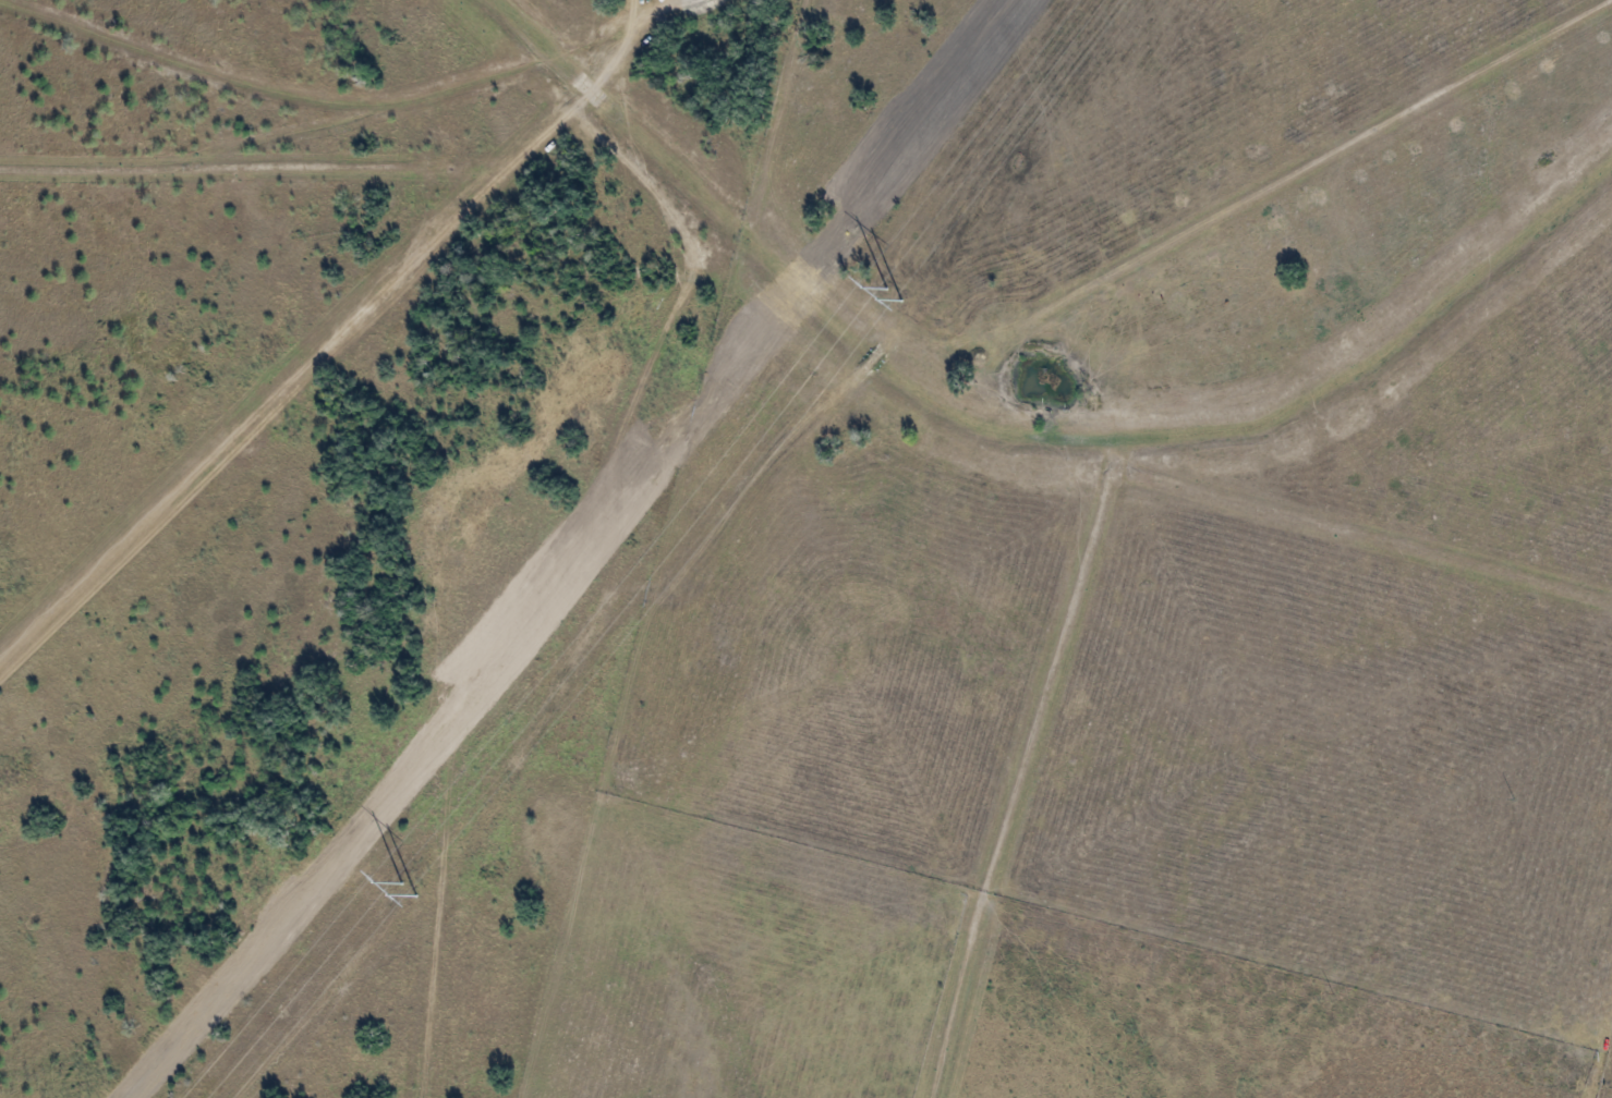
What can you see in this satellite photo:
power tower: (904, 286)
power tower: (419, 884)

